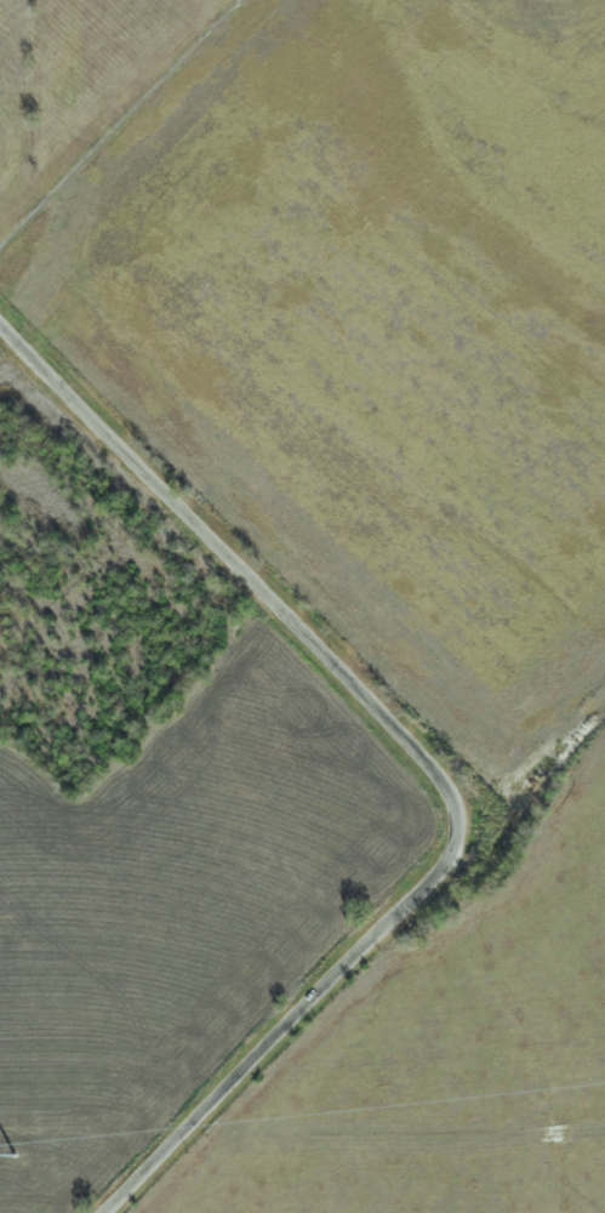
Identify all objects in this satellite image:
road: (424, 757)
power tower: (7, 1160)

